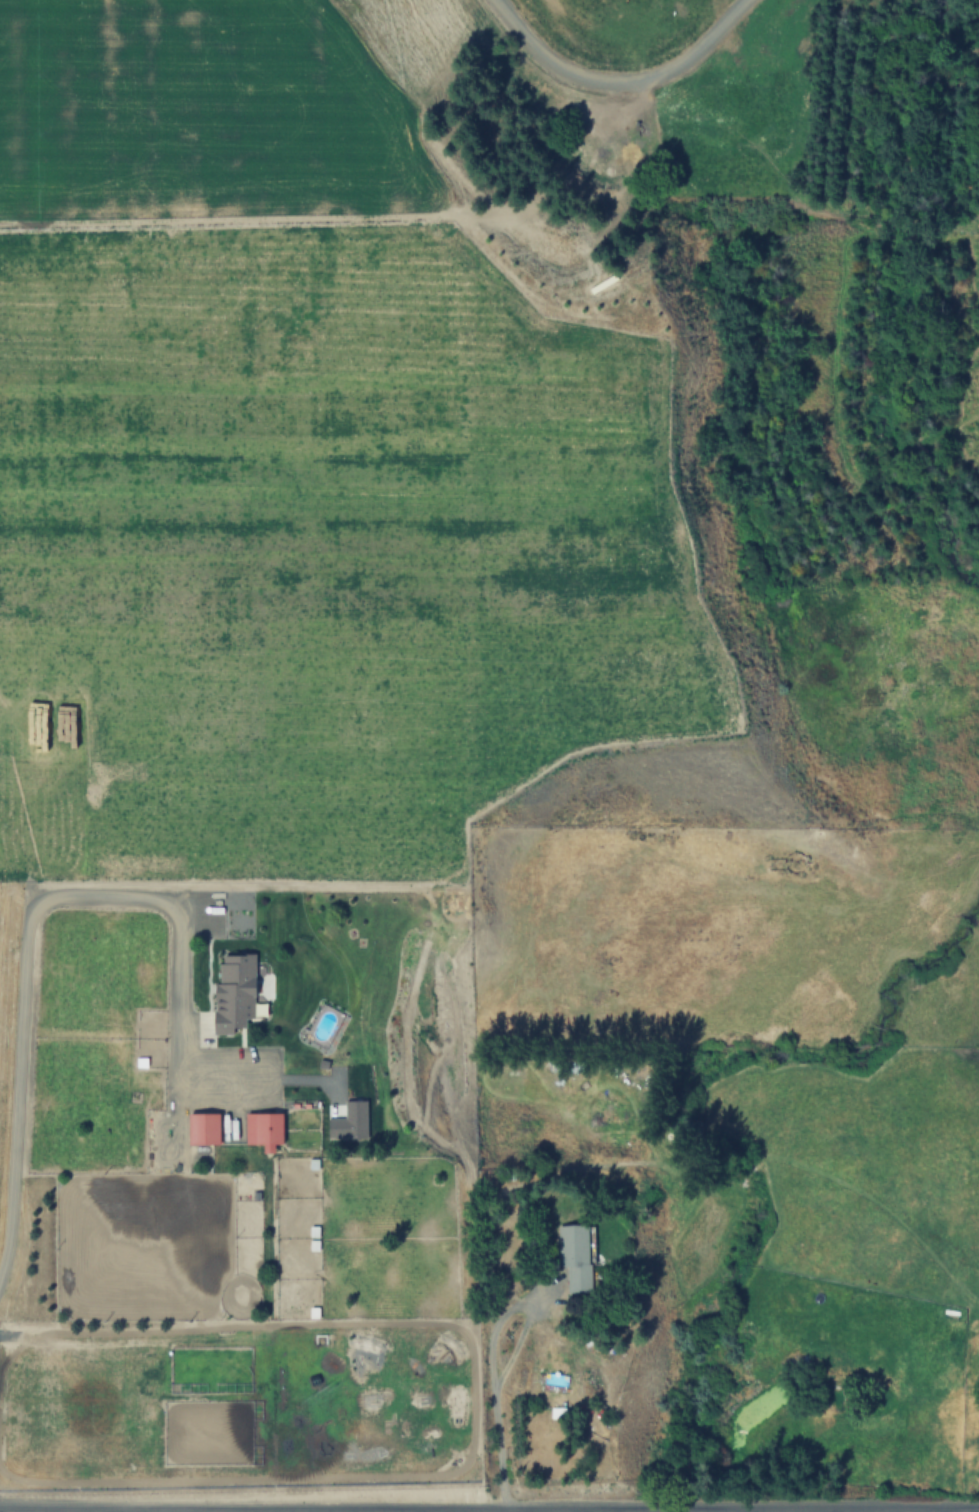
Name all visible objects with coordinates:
building: (236, 992)
building: (564, 1068)
building: (204, 1129)
building: (265, 1130)
building: (576, 1255)
building: (548, 1435)

